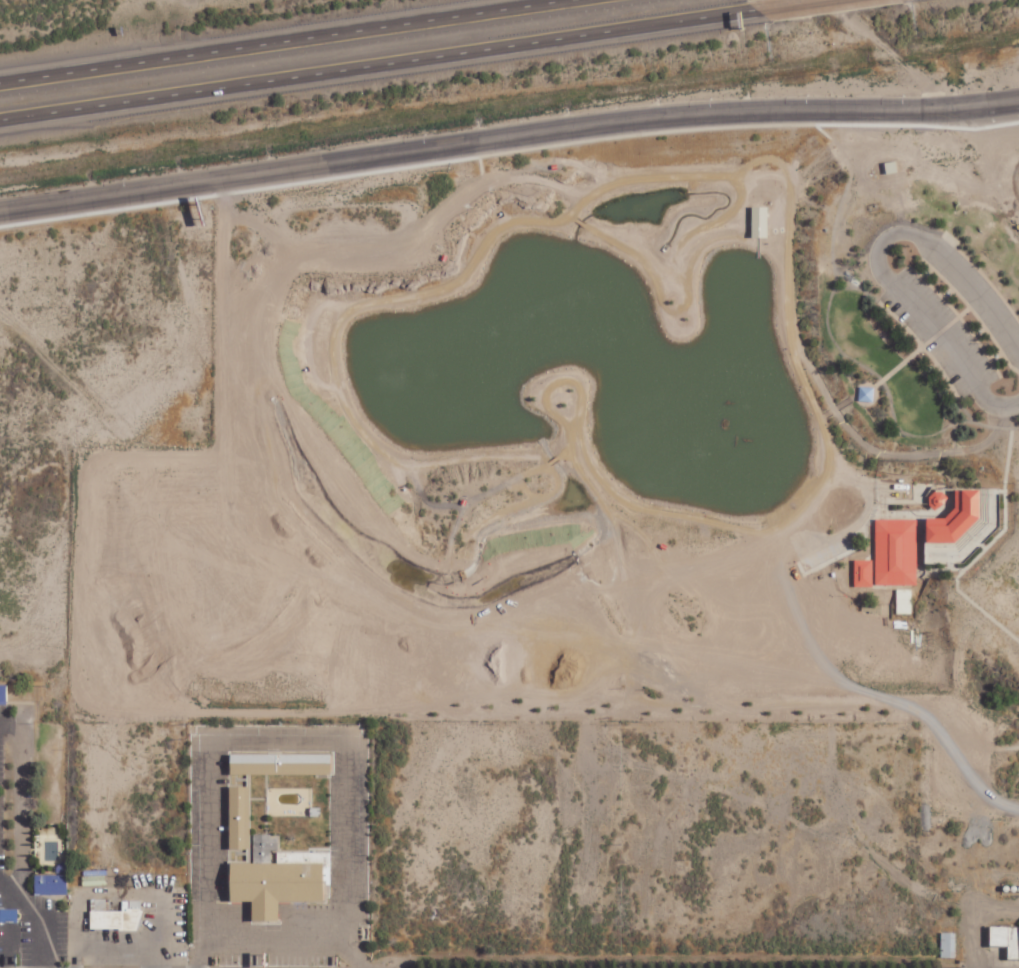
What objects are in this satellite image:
road: (791, 5)
road: (291, 41)
road: (378, 64)
railway: (932, 91)
road: (507, 138)
building: (760, 222)
building: (958, 518)
building: (896, 551)
building: (863, 573)
building: (904, 601)
building: (4, 695)
road: (276, 745)
building: (252, 764)
building: (305, 765)
building: (313, 812)
road: (202, 814)
building: (238, 818)
road: (349, 826)
building: (277, 878)
building: (51, 884)
building: (99, 904)
building: (9, 915)
building: (118, 917)
road: (200, 925)
road: (347, 939)
building: (1006, 939)
road: (273, 940)
building: (948, 945)

